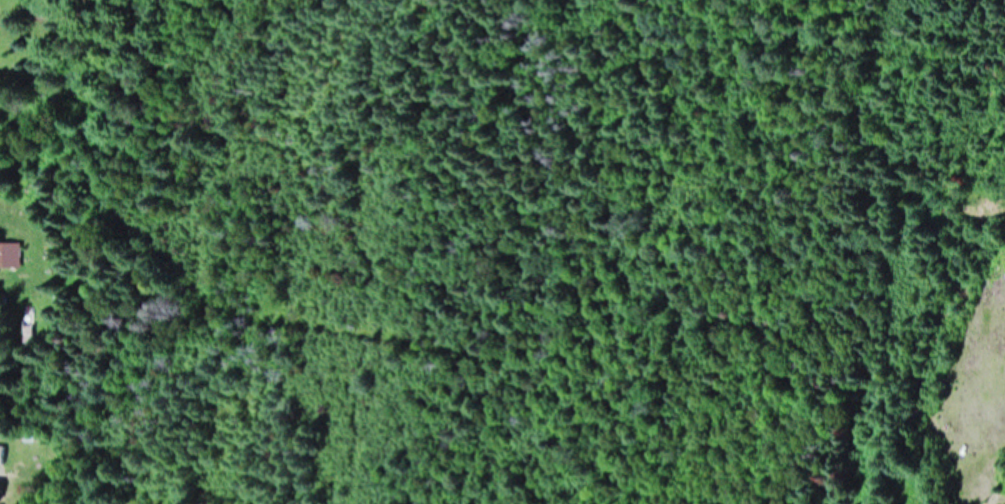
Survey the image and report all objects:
building: (8, 256)
building: (31, 326)
building: (3, 457)

